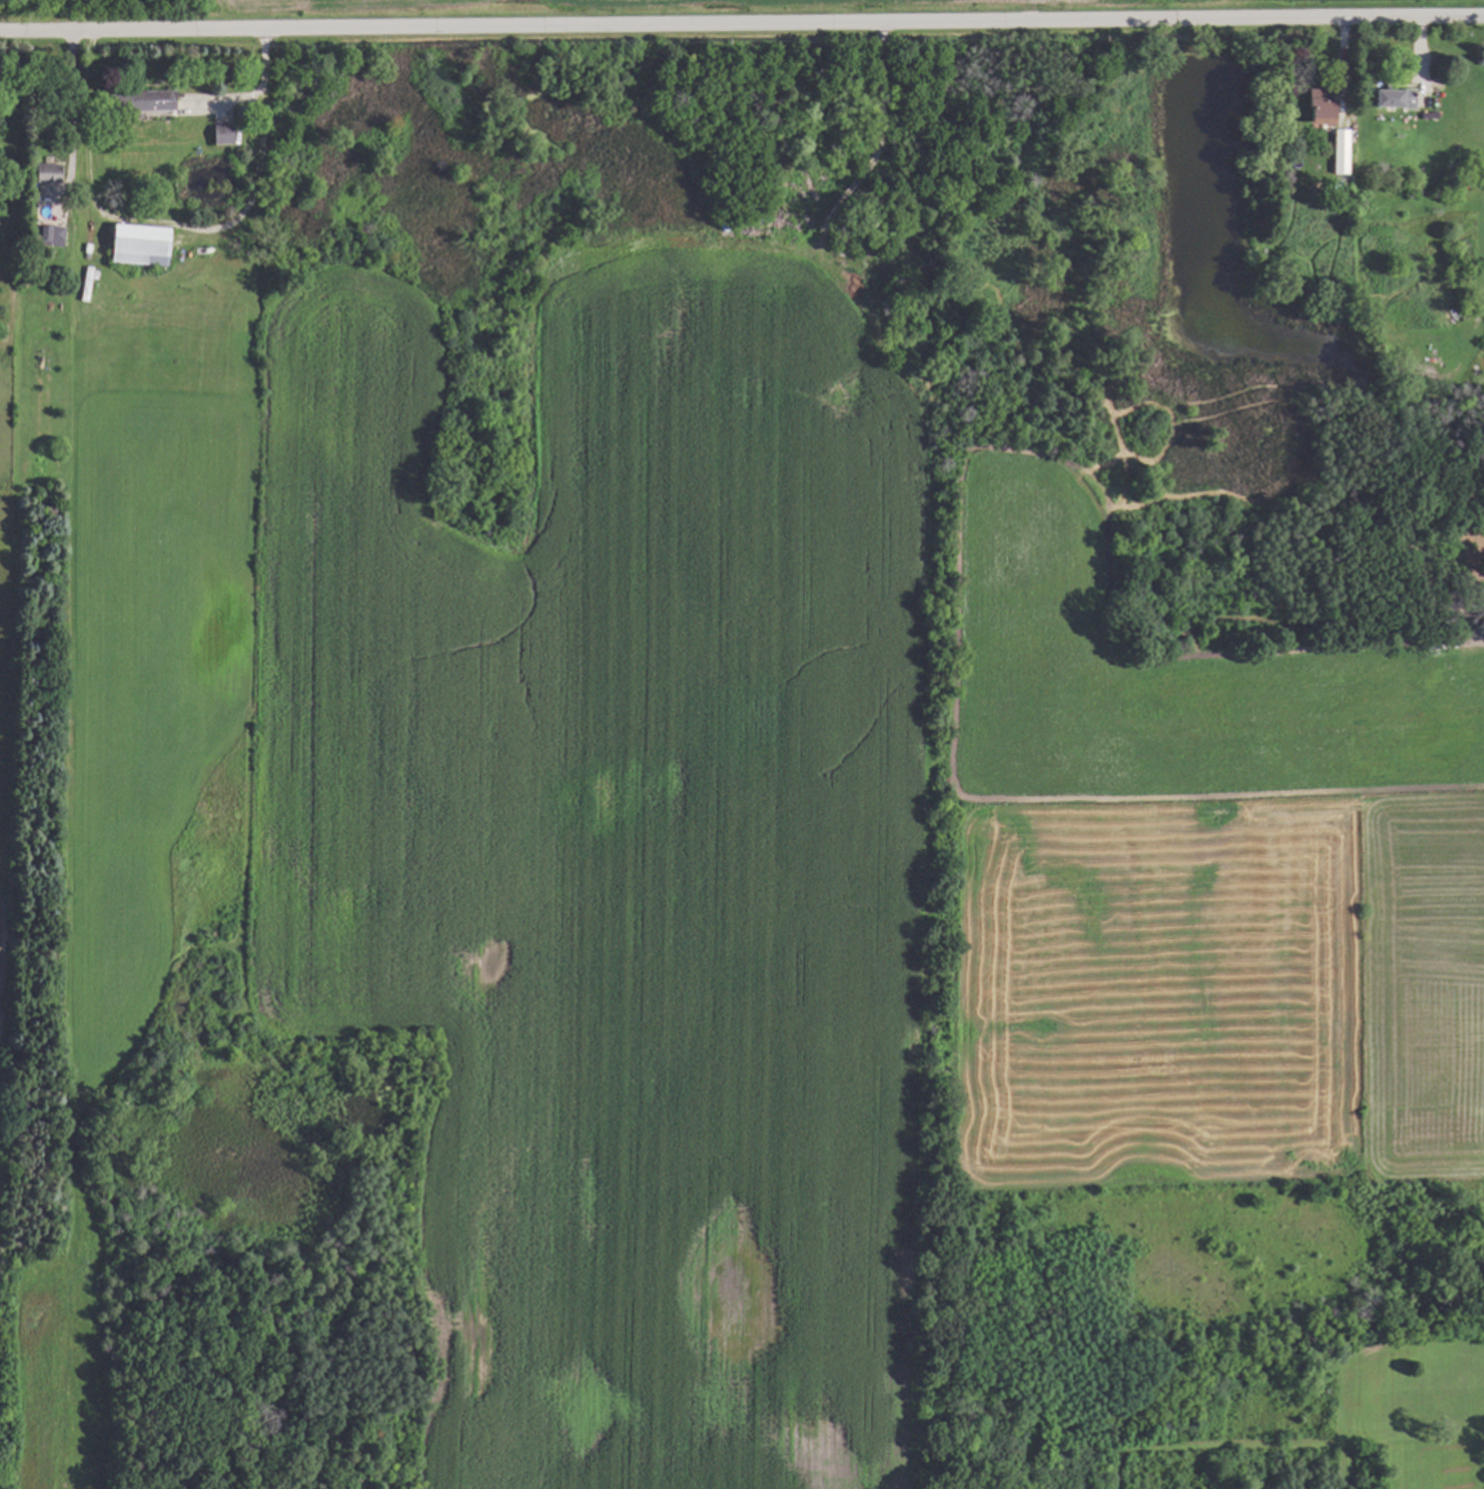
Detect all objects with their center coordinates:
crop: (554, 3)
landfill: (104, 12)
road: (741, 27)
building: (1390, 97)
building: (145, 99)
building: (1314, 109)
road: (71, 115)
building: (218, 134)
building: (1338, 151)
building: (43, 175)
road: (174, 227)
building: (48, 235)
building: (134, 244)
road: (1477, 642)
crop: (629, 855)
crop: (5, 1114)

